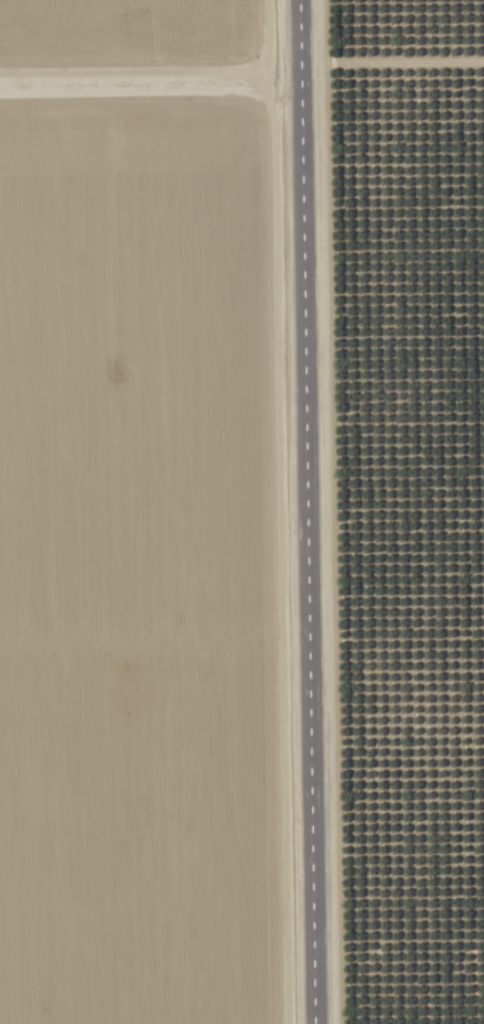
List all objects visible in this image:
crop: (125, 32)
airport runway: (305, 512)
crop: (131, 552)

